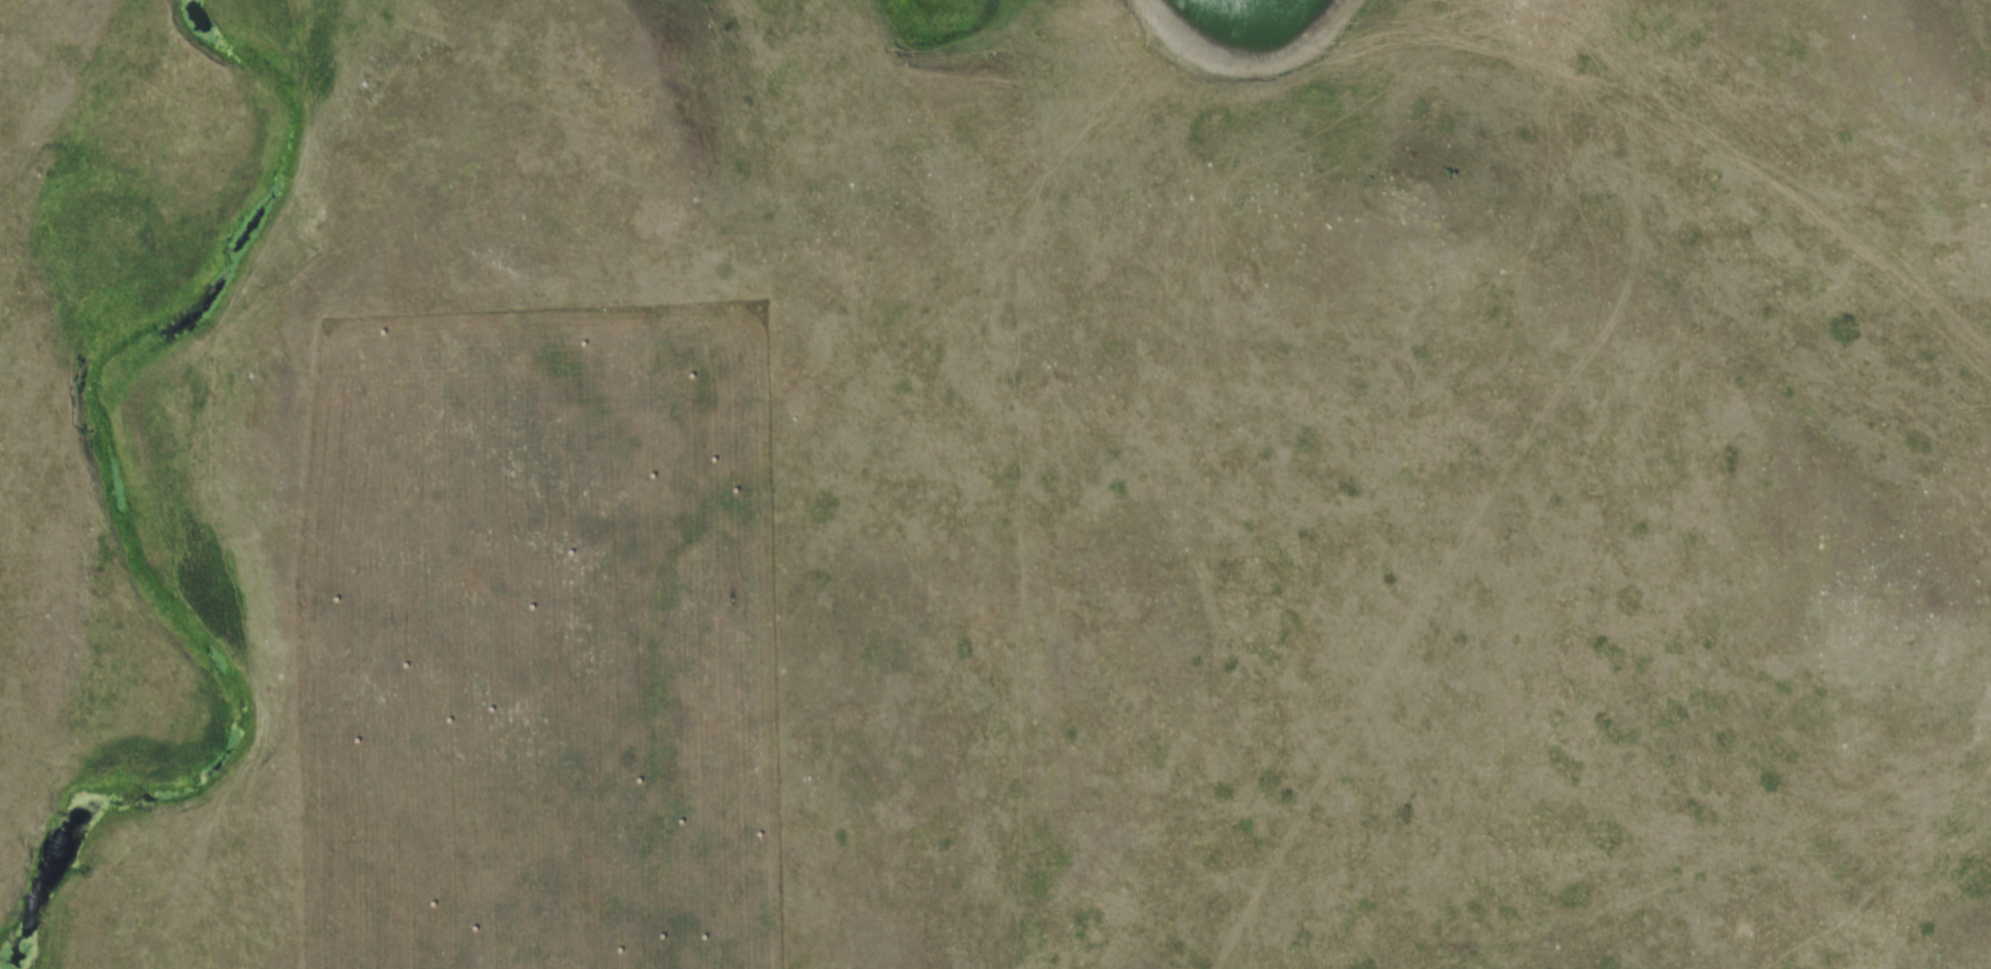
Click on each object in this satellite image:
road: (1666, 126)
road: (1492, 499)
road: (1707, 878)

